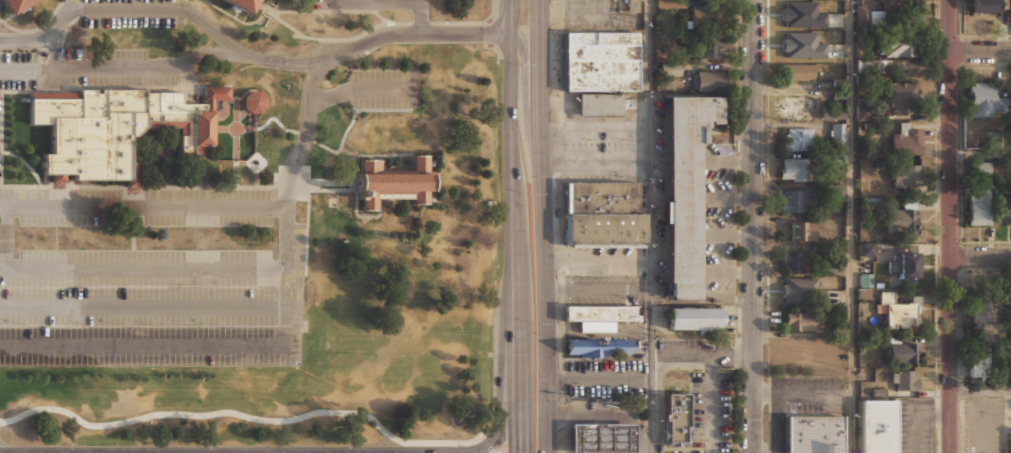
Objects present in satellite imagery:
road: (371, 1)
road: (376, 2)
building: (896, 3)
parking lot: (371, 4)
building: (14, 5)
building: (243, 5)
parking lot: (589, 5)
building: (629, 5)
road: (309, 6)
building: (984, 7)
road: (328, 11)
parking lot: (132, 13)
building: (709, 13)
building: (803, 14)
building: (868, 15)
road: (594, 16)
road: (422, 17)
road: (512, 17)
road: (240, 21)
road: (401, 23)
road: (288, 25)
road: (36, 28)
road: (490, 40)
building: (803, 45)
building: (898, 45)
building: (706, 48)
road: (980, 51)
road: (245, 53)
building: (602, 62)
parking lot: (85, 68)
road: (120, 69)
building: (673, 69)
building: (801, 71)
building: (708, 77)
road: (649, 78)
road: (86, 85)
road: (380, 88)
building: (898, 95)
road: (330, 97)
building: (253, 101)
building: (987, 102)
building: (602, 104)
road: (526, 105)
building: (833, 113)
building: (119, 128)
building: (837, 134)
road: (306, 135)
road: (1, 137)
building: (797, 138)
building: (909, 139)
road: (338, 149)
parking lot: (602, 150)
road: (373, 153)
road: (980, 153)
road: (24, 163)
building: (793, 169)
building: (905, 175)
road: (319, 182)
road: (350, 182)
building: (394, 182)
road: (352, 186)
building: (683, 189)
road: (136, 196)
building: (979, 196)
road: (356, 197)
building: (597, 198)
building: (794, 201)
road: (649, 206)
road: (116, 207)
building: (1004, 208)
parking lot: (716, 216)
building: (901, 217)
building: (600, 222)
road: (544, 226)
road: (753, 226)
road: (852, 226)
road: (950, 226)
road: (306, 227)
building: (803, 231)
building: (601, 238)
road: (518, 243)
building: (864, 249)
road: (980, 258)
building: (792, 260)
parking lot: (604, 261)
building: (833, 266)
building: (905, 266)
road: (143, 268)
parking lot: (148, 278)
parking lot: (604, 290)
building: (802, 291)
road: (143, 306)
building: (899, 311)
building: (600, 313)
building: (691, 319)
building: (988, 319)
building: (804, 321)
road: (211, 345)
building: (595, 347)
building: (902, 352)
road: (701, 355)
road: (650, 356)
building: (980, 365)
parking lot: (603, 378)
building: (906, 380)
road: (980, 392)
road: (803, 395)
road: (659, 402)
road: (712, 404)
road: (242, 414)
building: (675, 418)
road: (918, 419)
parking lot: (984, 425)
building: (875, 427)
road: (495, 432)
building: (797, 434)
building: (820, 434)
building: (834, 434)
building: (600, 438)
gas station: (600, 438)
building: (1010, 442)
road: (487, 443)

